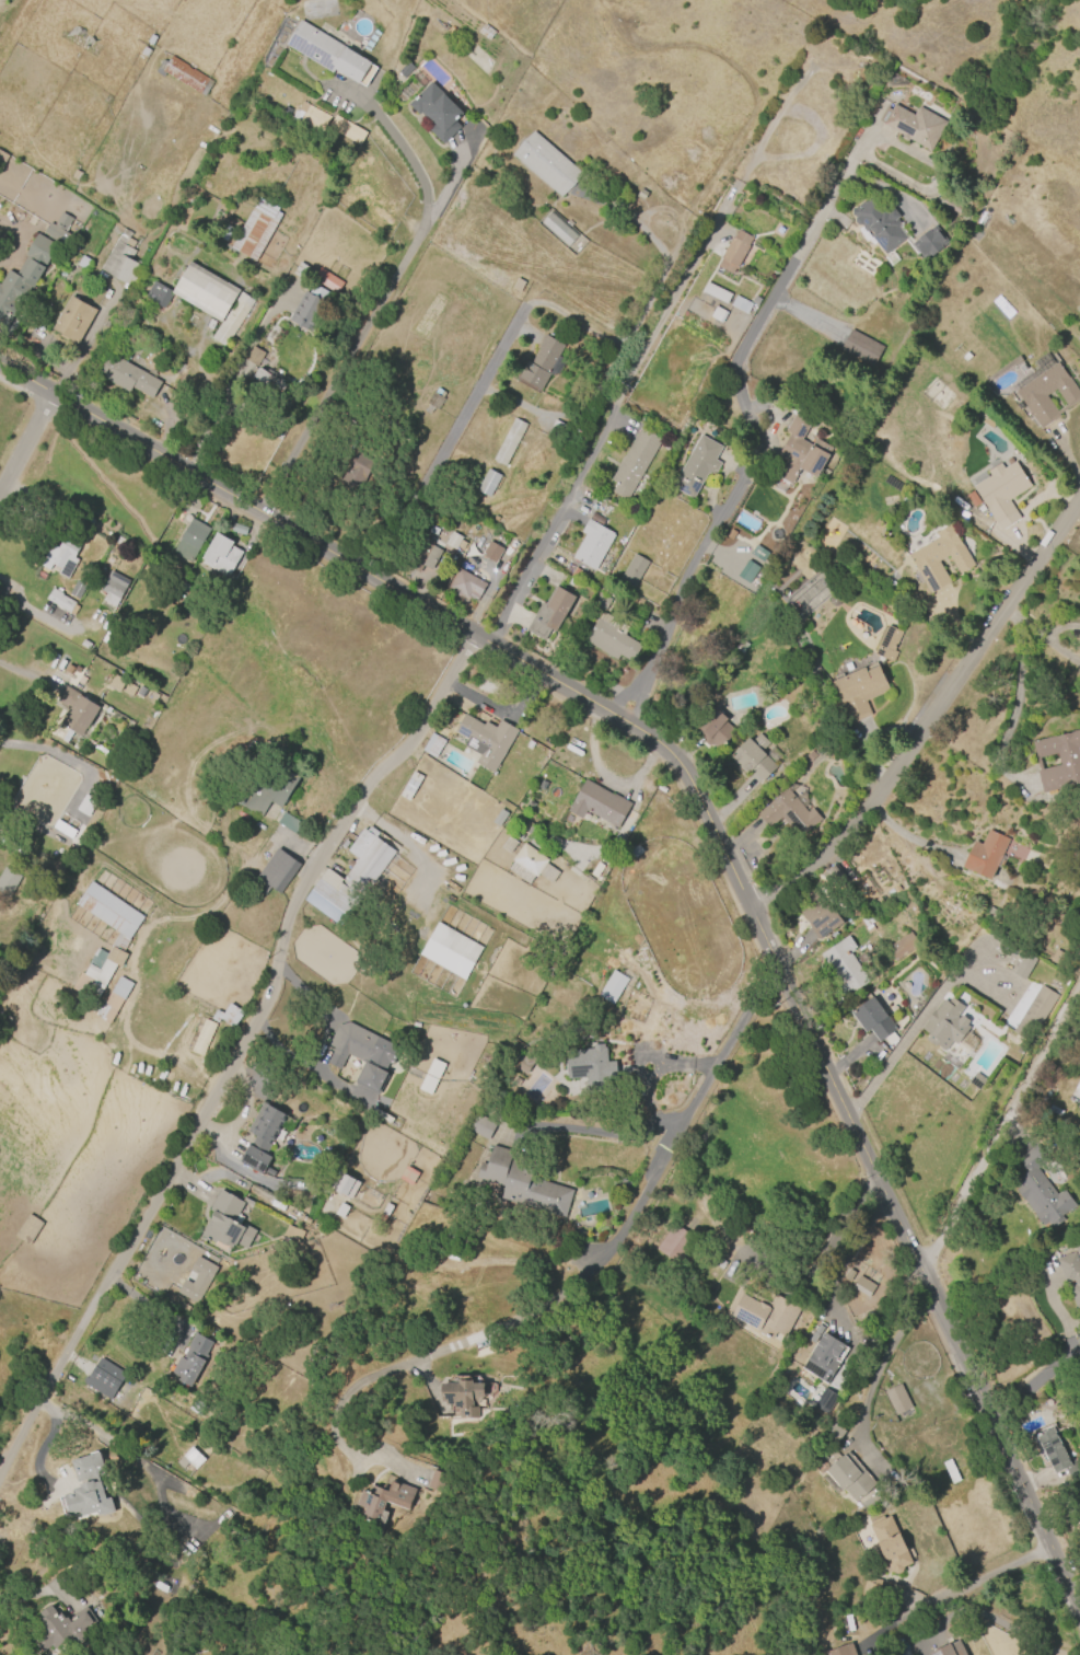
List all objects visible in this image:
building: (486, 32)
building: (327, 53)
building: (404, 69)
building: (186, 76)
building: (437, 112)
building: (311, 117)
building: (914, 126)
building: (346, 129)
building: (546, 163)
building: (74, 175)
building: (949, 204)
building: (879, 223)
building: (255, 229)
building: (558, 230)
building: (929, 242)
building: (733, 252)
building: (120, 259)
building: (82, 263)
building: (32, 265)
building: (300, 270)
building: (326, 280)
building: (518, 285)
road: (653, 287)
building: (196, 291)
road: (386, 291)
building: (716, 292)
building: (740, 304)
building: (309, 308)
building: (718, 314)
road: (661, 317)
building: (72, 320)
building: (231, 320)
road: (84, 344)
building: (861, 346)
building: (253, 356)
building: (543, 362)
building: (128, 375)
building: (265, 386)
building: (1046, 391)
building: (433, 401)
road: (564, 415)
road: (746, 423)
building: (280, 426)
road: (444, 440)
building: (508, 441)
road: (24, 442)
building: (802, 448)
building: (634, 462)
building: (697, 466)
building: (358, 471)
building: (487, 483)
building: (1001, 493)
building: (973, 498)
road: (553, 525)
building: (193, 539)
building: (452, 540)
building: (592, 543)
building: (63, 551)
building: (491, 552)
building: (221, 556)
building: (423, 556)
building: (939, 558)
building: (632, 569)
building: (747, 571)
building: (467, 582)
building: (113, 591)
building: (59, 601)
building: (600, 601)
road: (45, 607)
building: (550, 615)
building: (611, 638)
building: (887, 643)
road: (23, 673)
road: (1021, 682)
building: (121, 686)
building: (858, 694)
building: (78, 709)
road: (930, 717)
building: (713, 729)
building: (486, 740)
building: (432, 745)
building: (752, 757)
building: (1058, 762)
building: (411, 786)
building: (265, 788)
building: (599, 803)
building: (789, 813)
building: (499, 818)
building: (289, 824)
road: (711, 827)
road: (908, 837)
road: (407, 844)
building: (986, 856)
building: (530, 859)
building: (276, 871)
building: (548, 872)
building: (835, 879)
building: (359, 880)
building: (8, 881)
building: (820, 913)
building: (870, 927)
building: (119, 944)
building: (901, 946)
building: (450, 951)
building: (843, 965)
building: (1023, 965)
building: (612, 986)
building: (113, 1000)
building: (1037, 1012)
building: (228, 1016)
building: (872, 1019)
building: (945, 1025)
road: (914, 1028)
building: (202, 1038)
road: (237, 1051)
building: (362, 1053)
building: (524, 1063)
building: (590, 1065)
road: (659, 1068)
building: (431, 1076)
building: (1077, 1085)
building: (1079, 1110)
building: (484, 1126)
road: (604, 1132)
road: (1000, 1133)
building: (263, 1136)
building: (408, 1176)
building: (522, 1182)
building: (346, 1187)
building: (1041, 1192)
building: (225, 1220)
building: (292, 1234)
building: (678, 1243)
road: (850, 1252)
road: (595, 1268)
building: (1071, 1274)
building: (197, 1280)
building: (862, 1286)
building: (767, 1316)
building: (824, 1357)
building: (193, 1359)
road: (884, 1359)
building: (106, 1378)
road: (1033, 1384)
building: (461, 1397)
building: (826, 1399)
building: (899, 1399)
building: (1054, 1450)
building: (189, 1460)
building: (850, 1478)
building: (434, 1480)
building: (90, 1489)
building: (381, 1504)
building: (1079, 1517)
building: (1079, 1521)
building: (889, 1544)
road: (971, 1582)
building: (872, 1589)
road: (26, 1595)
road: (998, 1621)
building: (62, 1629)
building: (949, 1650)
building: (841, 1651)

